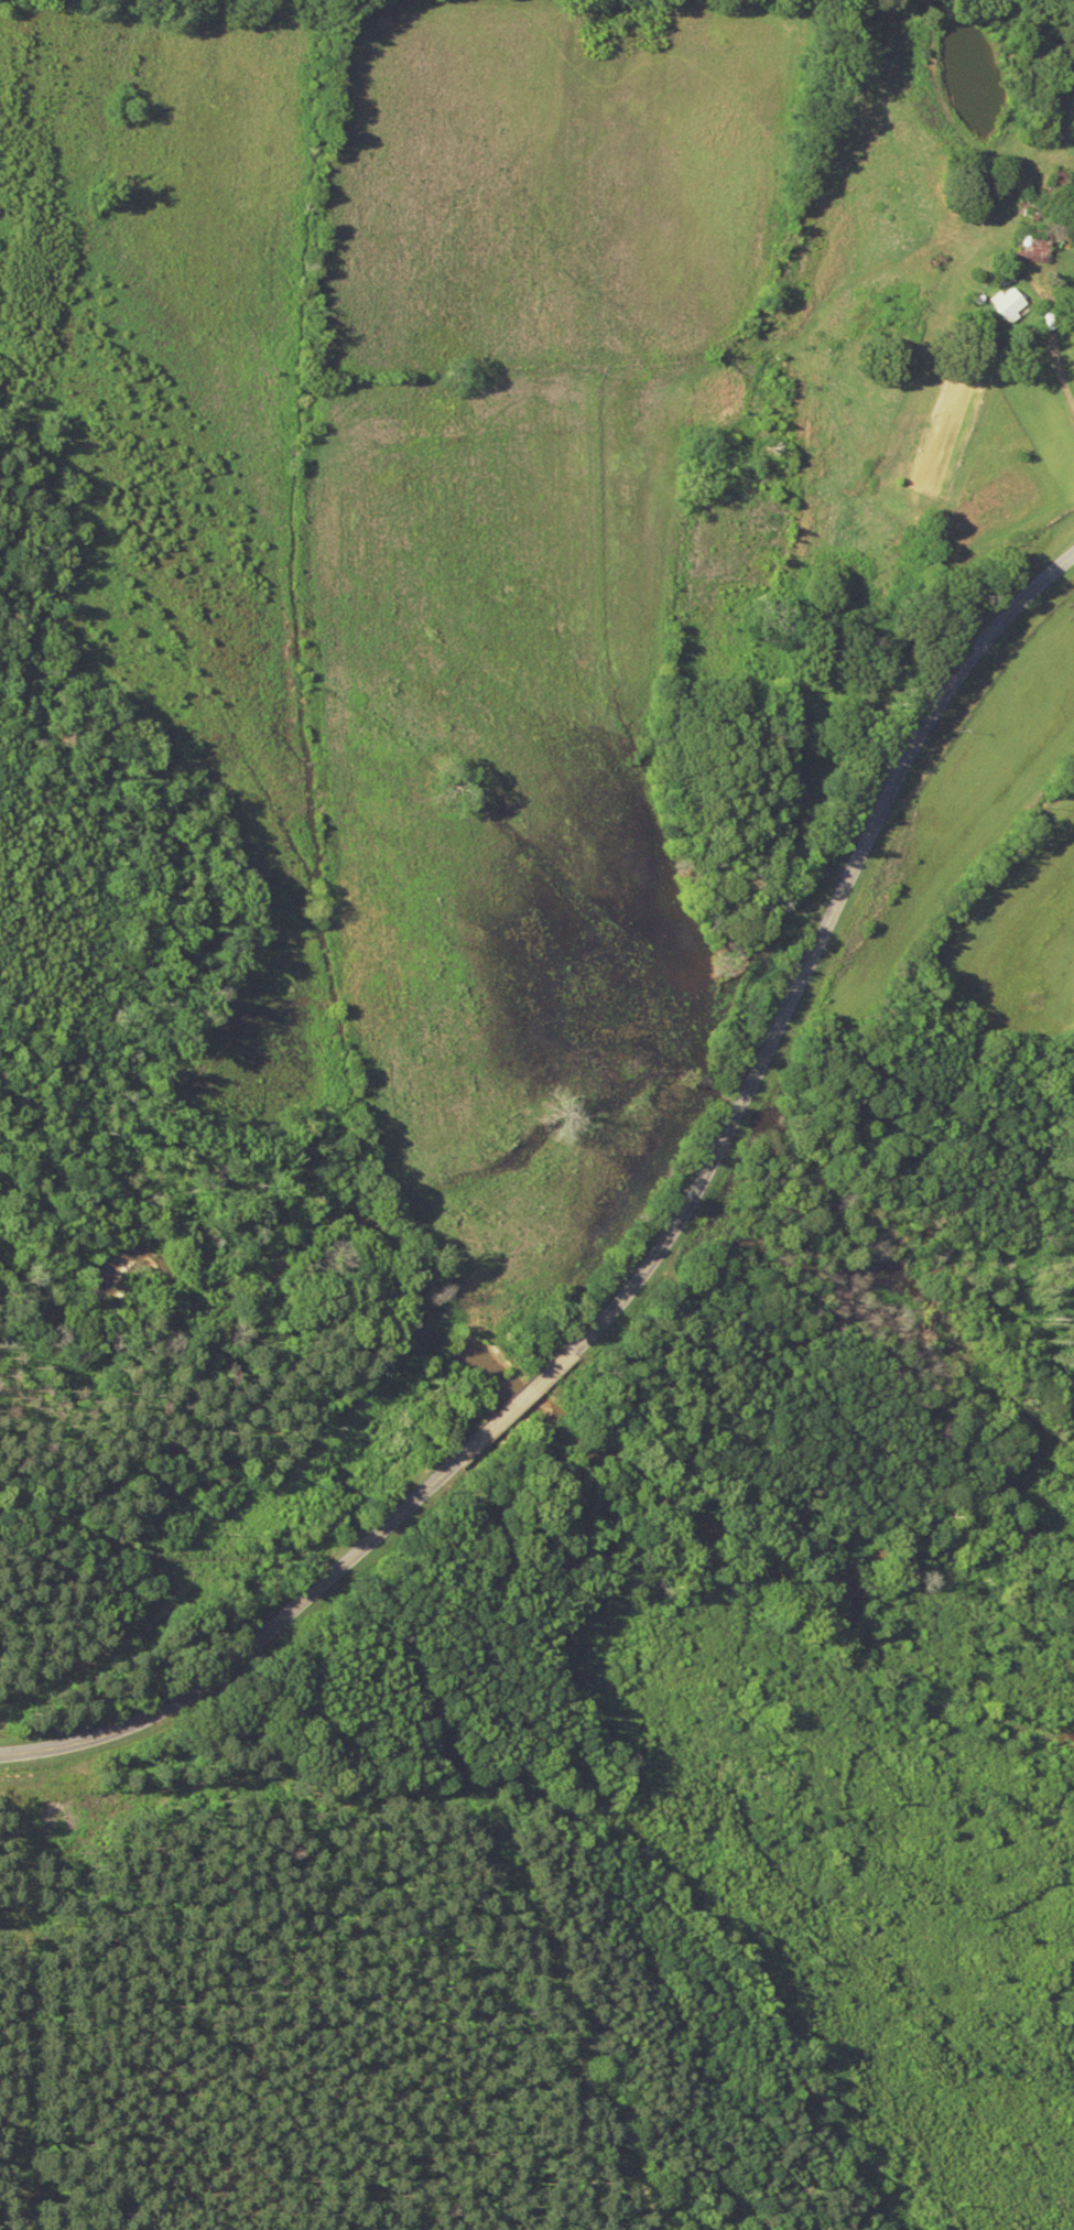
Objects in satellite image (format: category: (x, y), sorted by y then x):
building: (1057, 183)
building: (1032, 205)
building: (975, 208)
building: (1042, 239)
building: (1013, 303)
road: (610, 342)
road: (771, 943)
road: (249, 1596)

